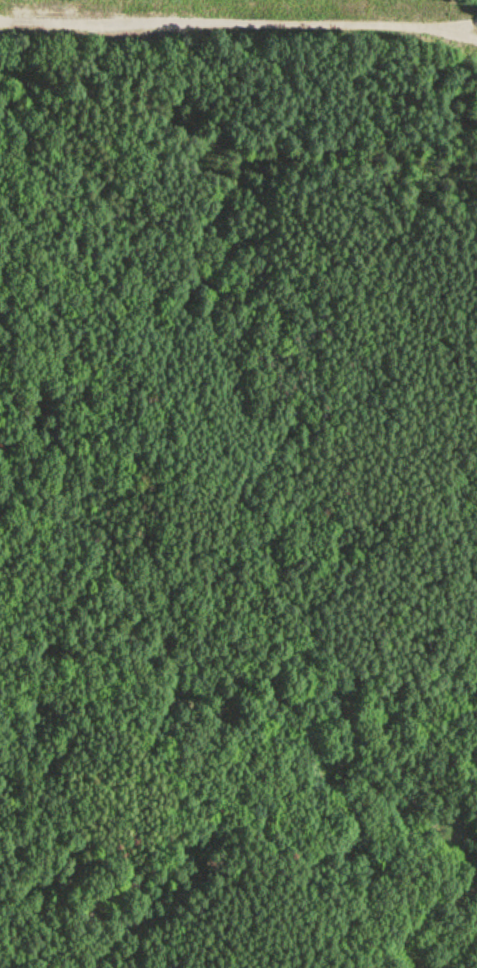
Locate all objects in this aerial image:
road: (238, 26)
road: (458, 33)

